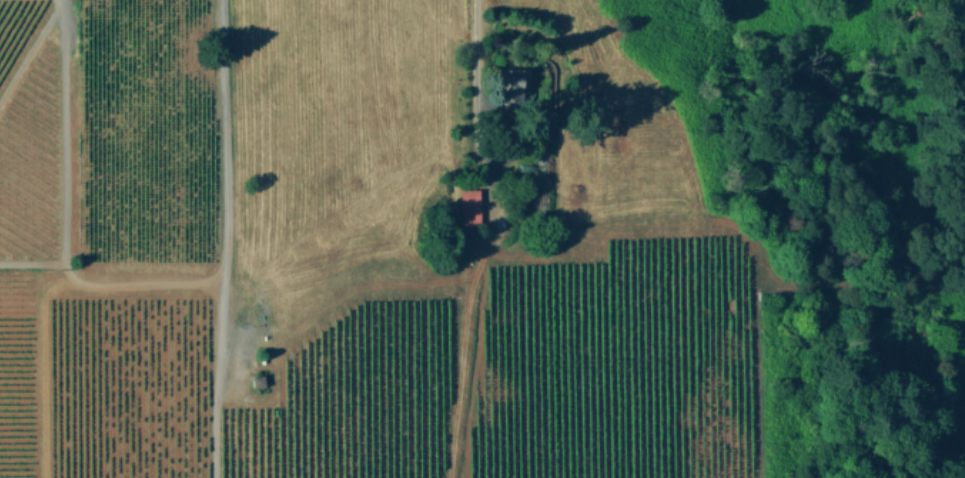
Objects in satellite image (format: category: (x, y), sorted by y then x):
road: (474, 71)
building: (514, 84)
road: (225, 119)
building: (471, 206)
road: (218, 357)

